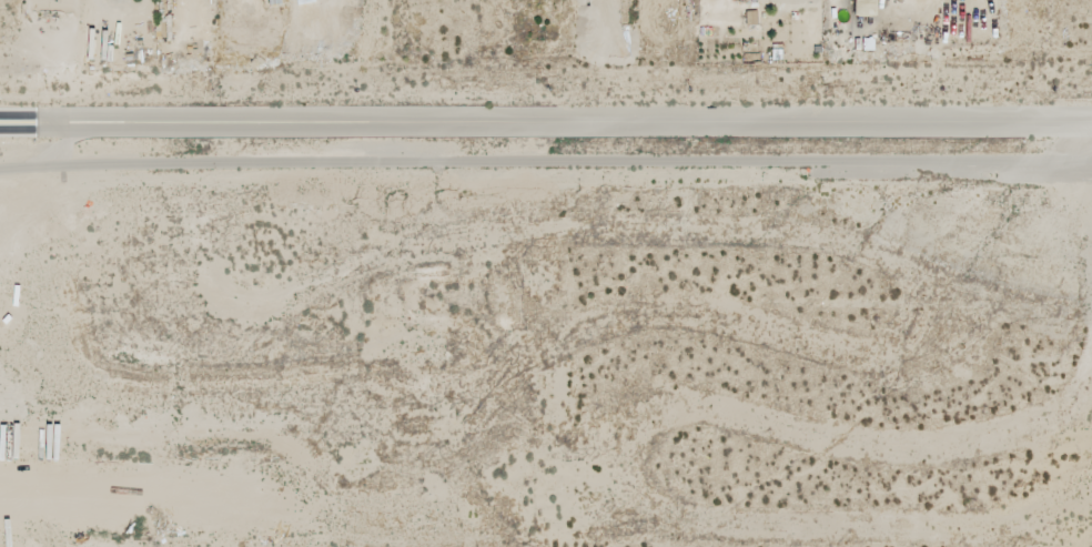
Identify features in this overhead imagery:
building: (838, 13)
building: (750, 19)
road: (374, 20)

